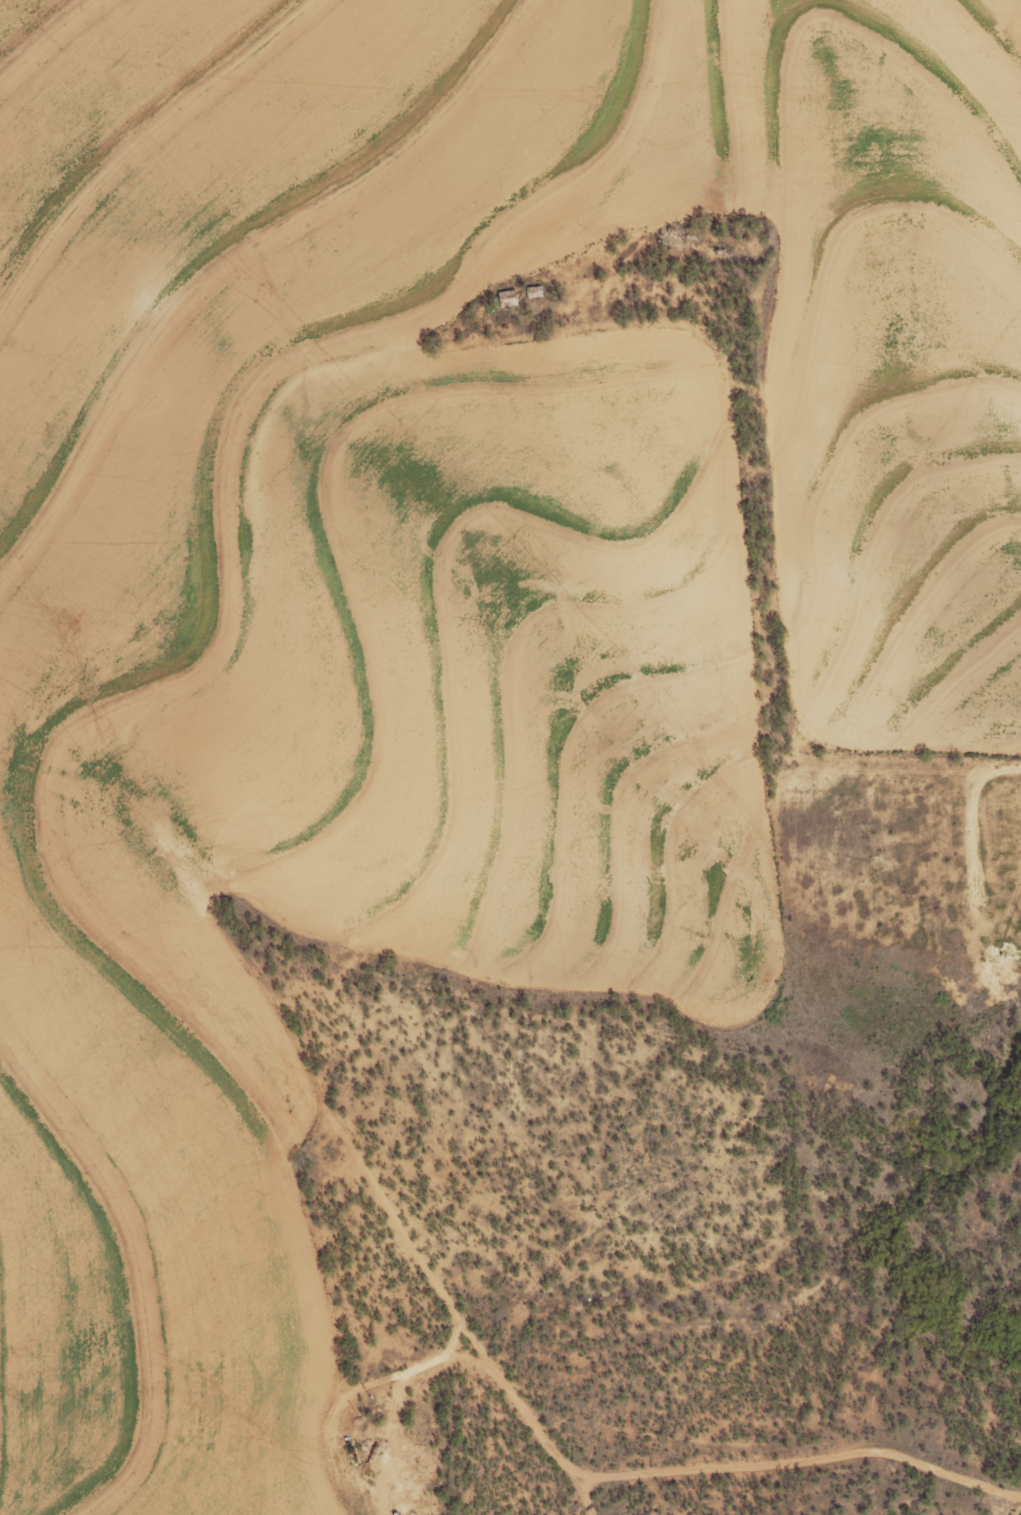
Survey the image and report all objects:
road: (658, 102)

